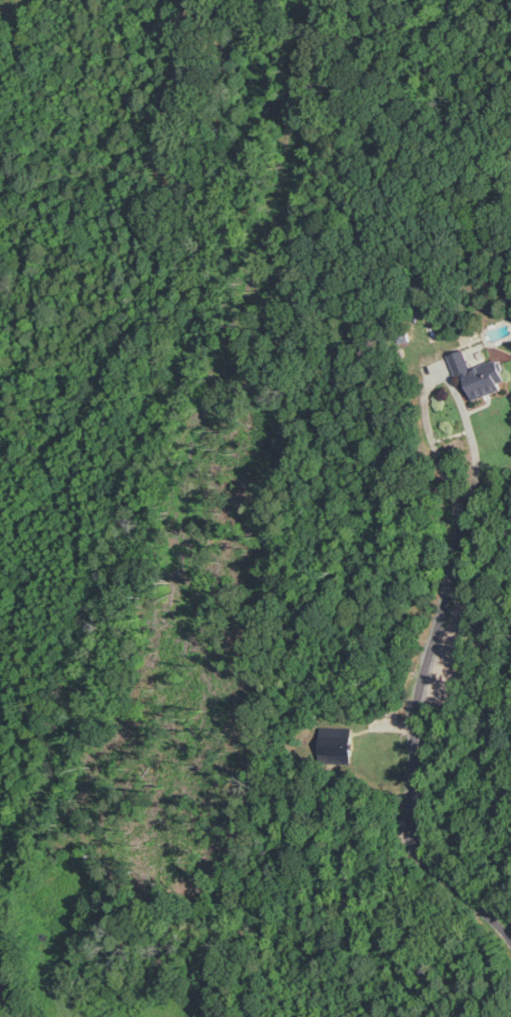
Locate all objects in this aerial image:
building: (481, 375)
road: (441, 376)
road: (414, 749)
building: (336, 751)

